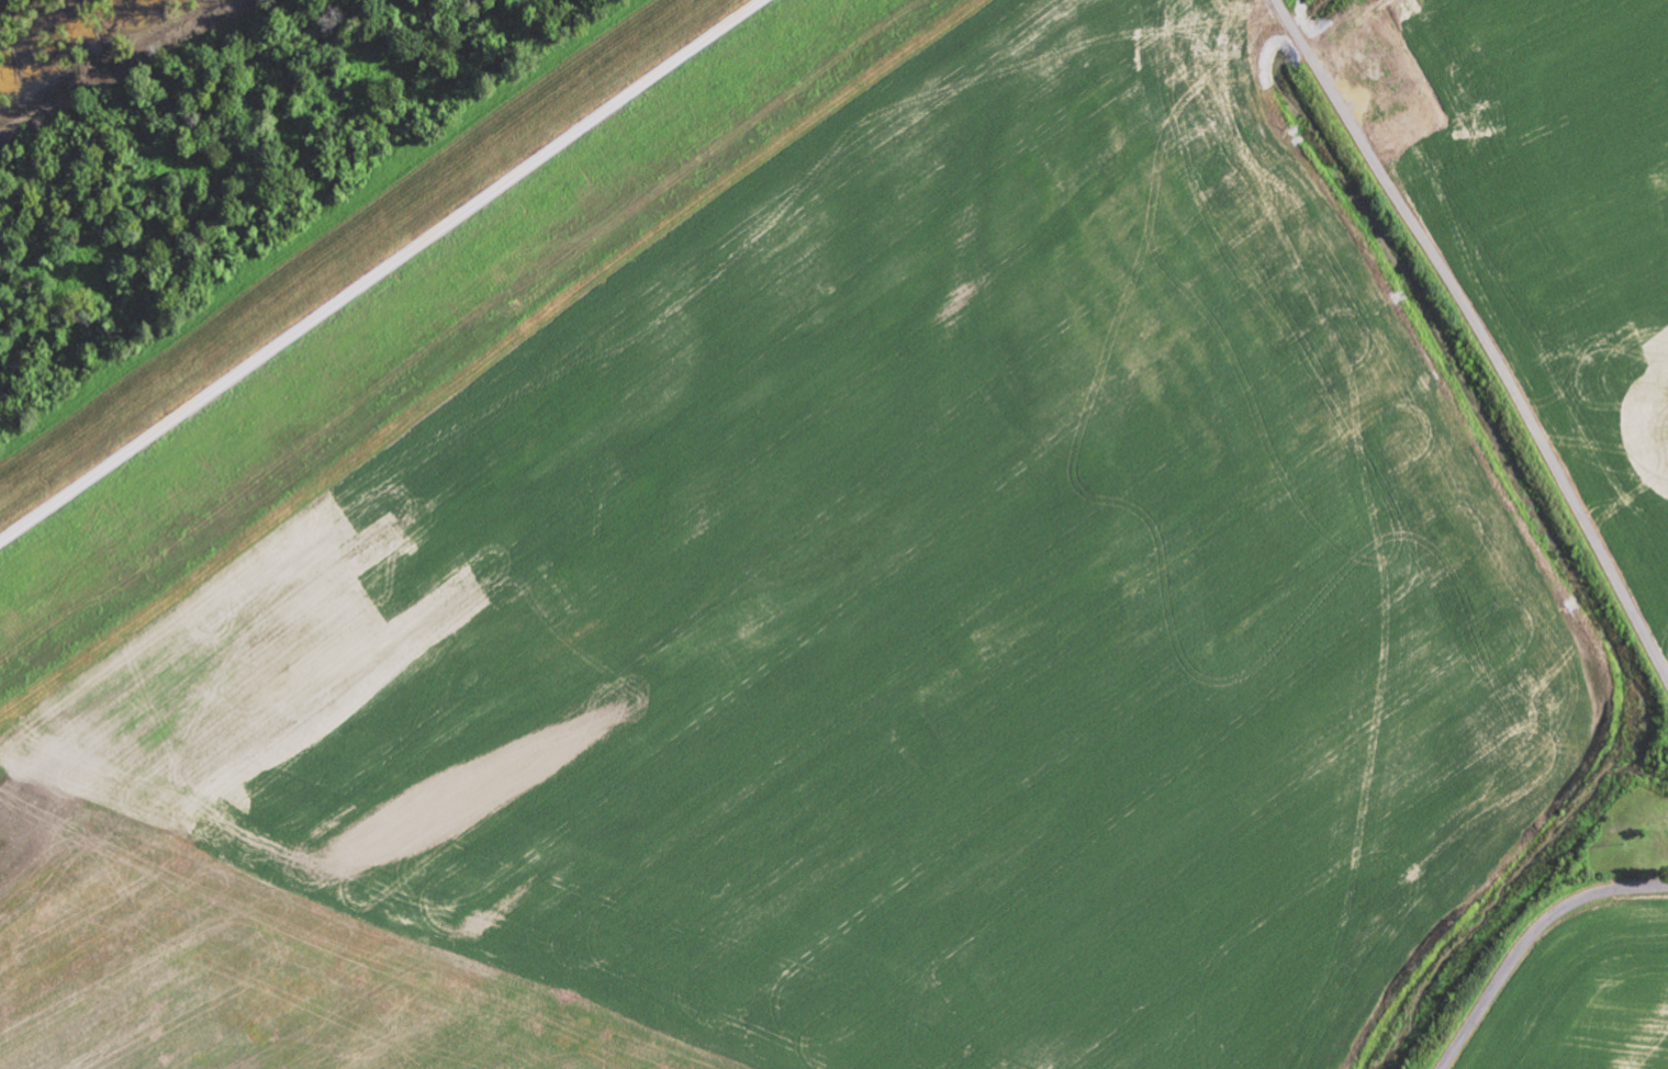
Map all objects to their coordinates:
road: (380, 268)
road: (1482, 333)
road: (1530, 938)

